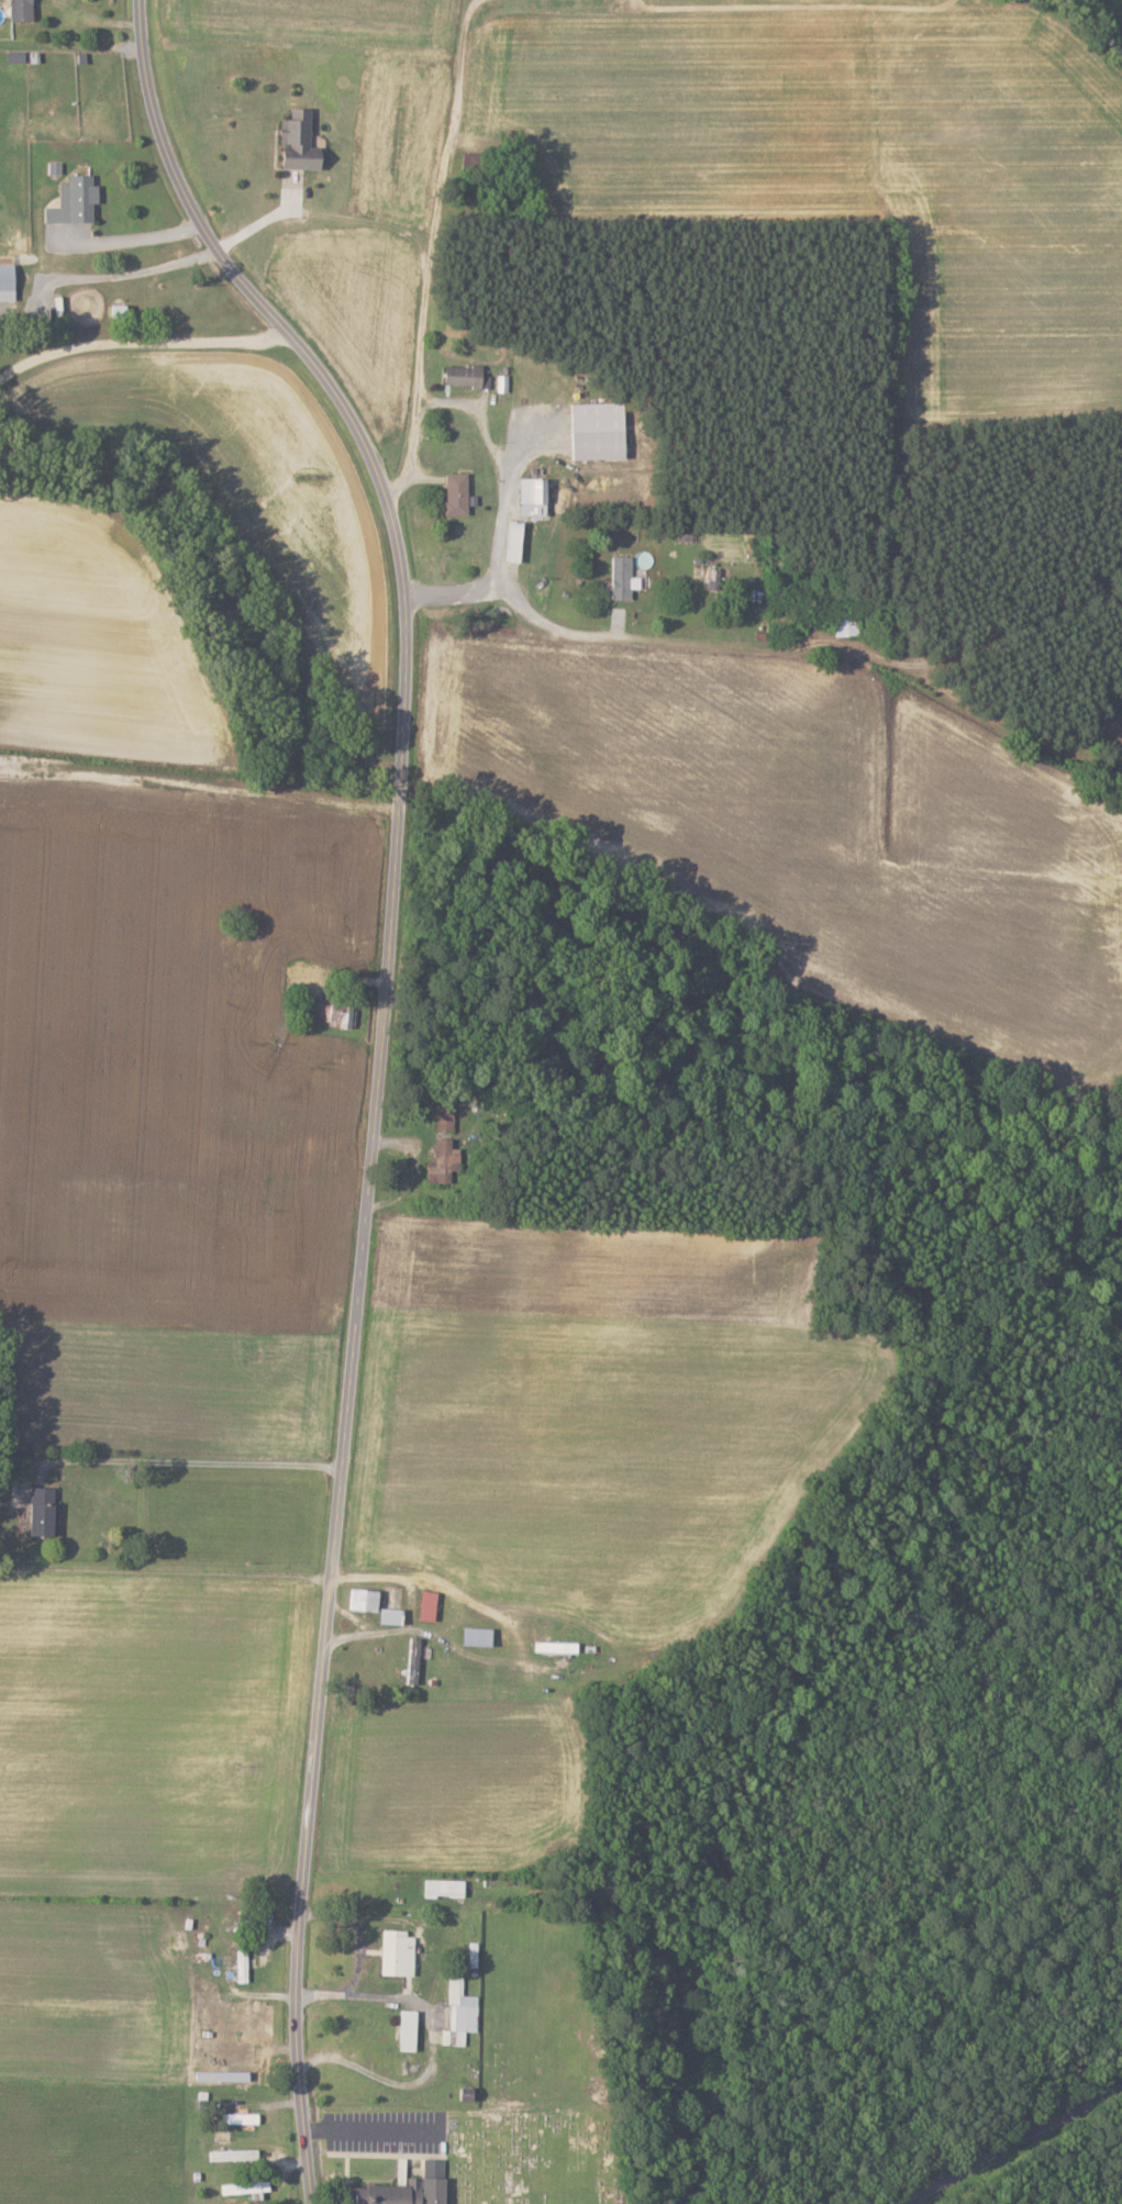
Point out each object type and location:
building: (22, 10)
building: (301, 141)
building: (77, 200)
road: (130, 238)
road: (426, 258)
road: (125, 268)
building: (8, 281)
road: (138, 338)
building: (468, 376)
building: (600, 431)
building: (458, 493)
road: (506, 497)
building: (535, 497)
building: (516, 541)
building: (625, 577)
building: (718, 579)
building: (846, 625)
road: (765, 642)
building: (341, 1016)
road: (380, 1067)
building: (446, 1117)
building: (445, 1161)
road: (198, 1461)
building: (45, 1512)
building: (366, 1601)
building: (430, 1606)
building: (393, 1617)
building: (480, 1637)
building: (503, 1637)
road: (523, 1647)
building: (557, 1647)
building: (415, 1660)
building: (445, 1888)
road: (357, 1929)
building: (400, 1952)
building: (244, 1964)
building: (410, 2029)
road: (434, 2045)
road: (1015, 2147)
building: (407, 2192)

